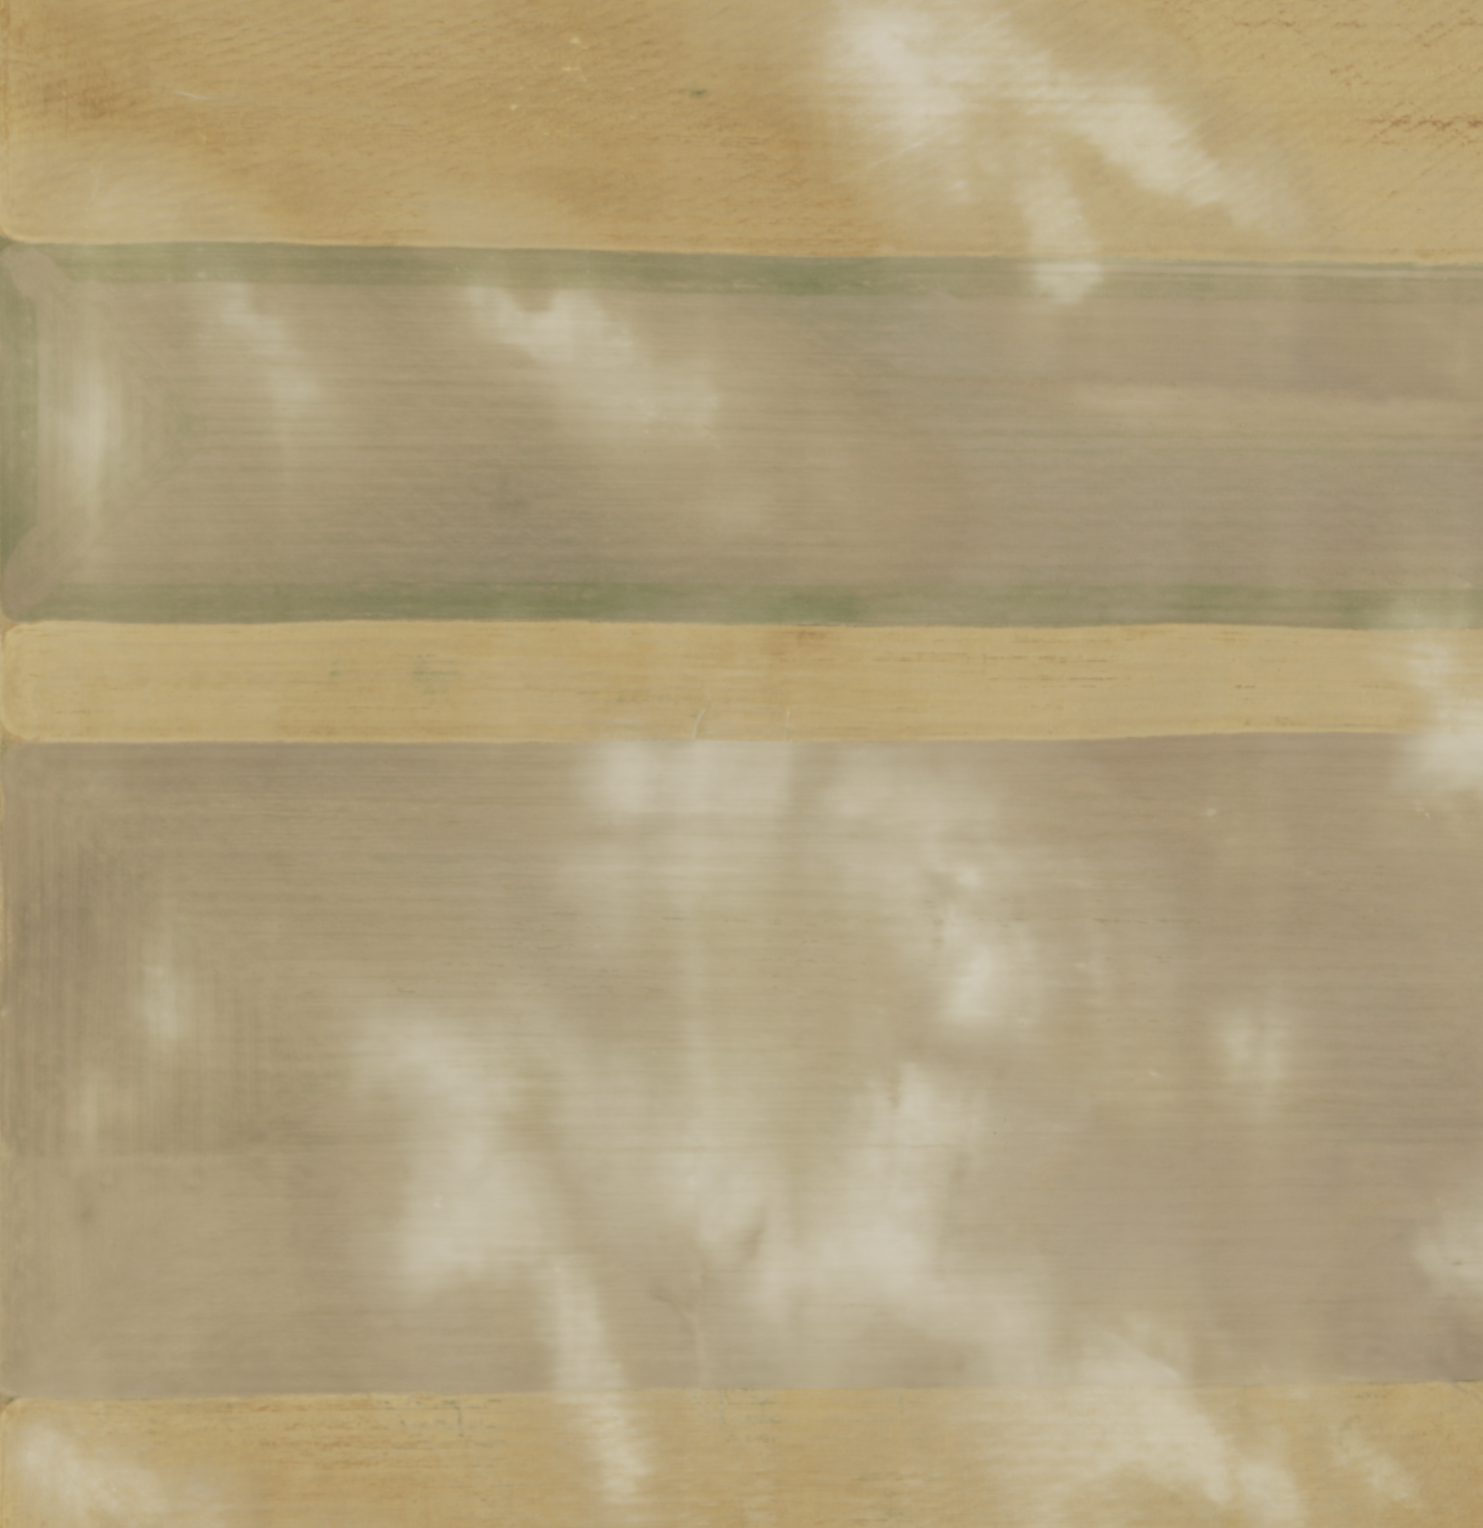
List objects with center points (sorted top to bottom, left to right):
crop: (741, 764)

